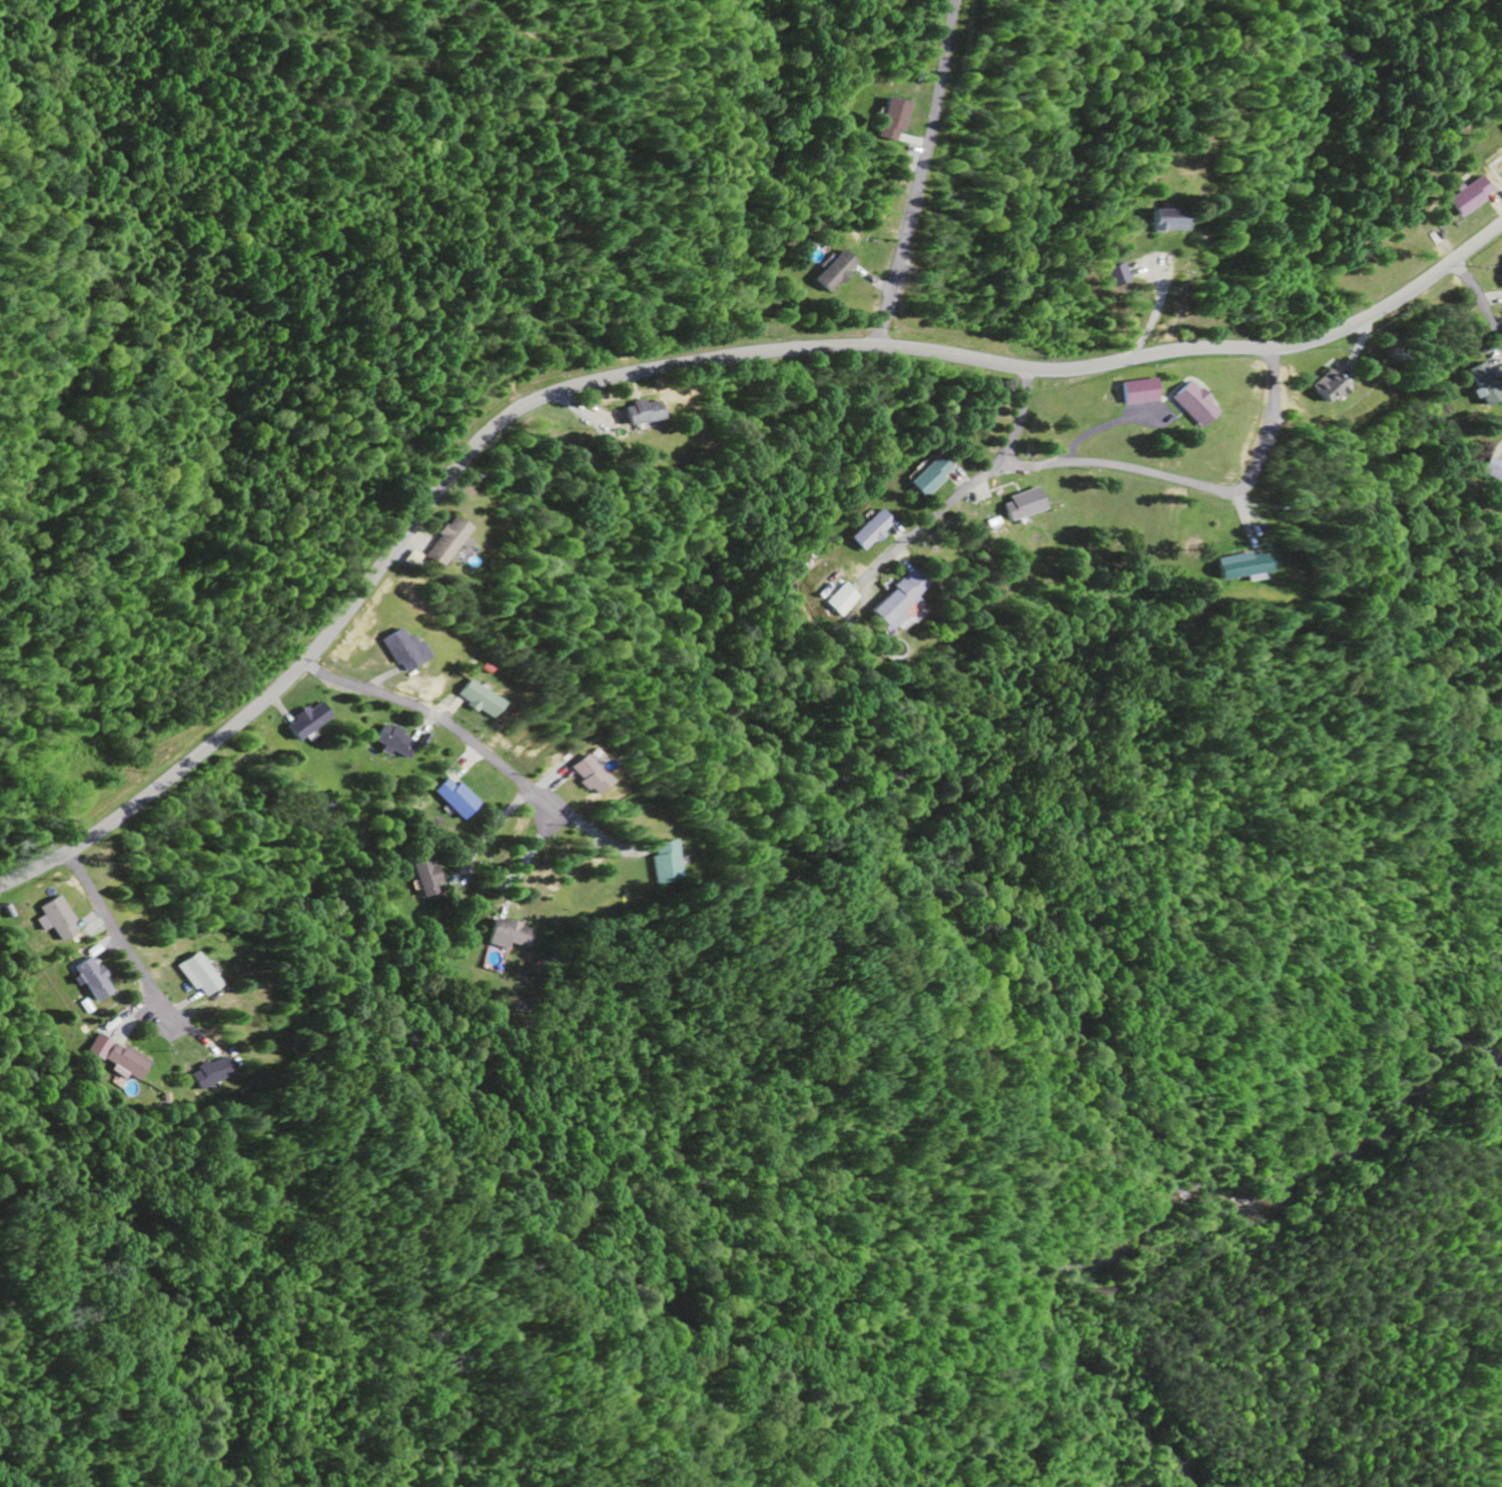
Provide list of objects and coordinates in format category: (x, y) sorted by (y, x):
building: (890, 120)
road: (921, 174)
building: (1467, 197)
building: (1154, 220)
building: (831, 273)
building: (1115, 275)
building: (1500, 276)
road: (1477, 305)
road: (671, 369)
building: (1480, 384)
building: (1320, 387)
building: (1133, 392)
building: (1188, 404)
building: (635, 413)
building: (1490, 471)
building: (926, 476)
road: (1194, 482)
road: (970, 484)
building: (1019, 506)
building: (869, 531)
building: (437, 543)
building: (1236, 568)
building: (838, 601)
building: (895, 604)
building: (396, 651)
building: (470, 700)
road: (437, 720)
building: (303, 721)
building: (390, 742)
building: (576, 775)
building: (453, 799)
building: (651, 863)
building: (422, 876)
building: (60, 920)
road: (113, 933)
building: (507, 935)
building: (196, 976)
building: (96, 979)
building: (124, 1059)
building: (209, 1073)

